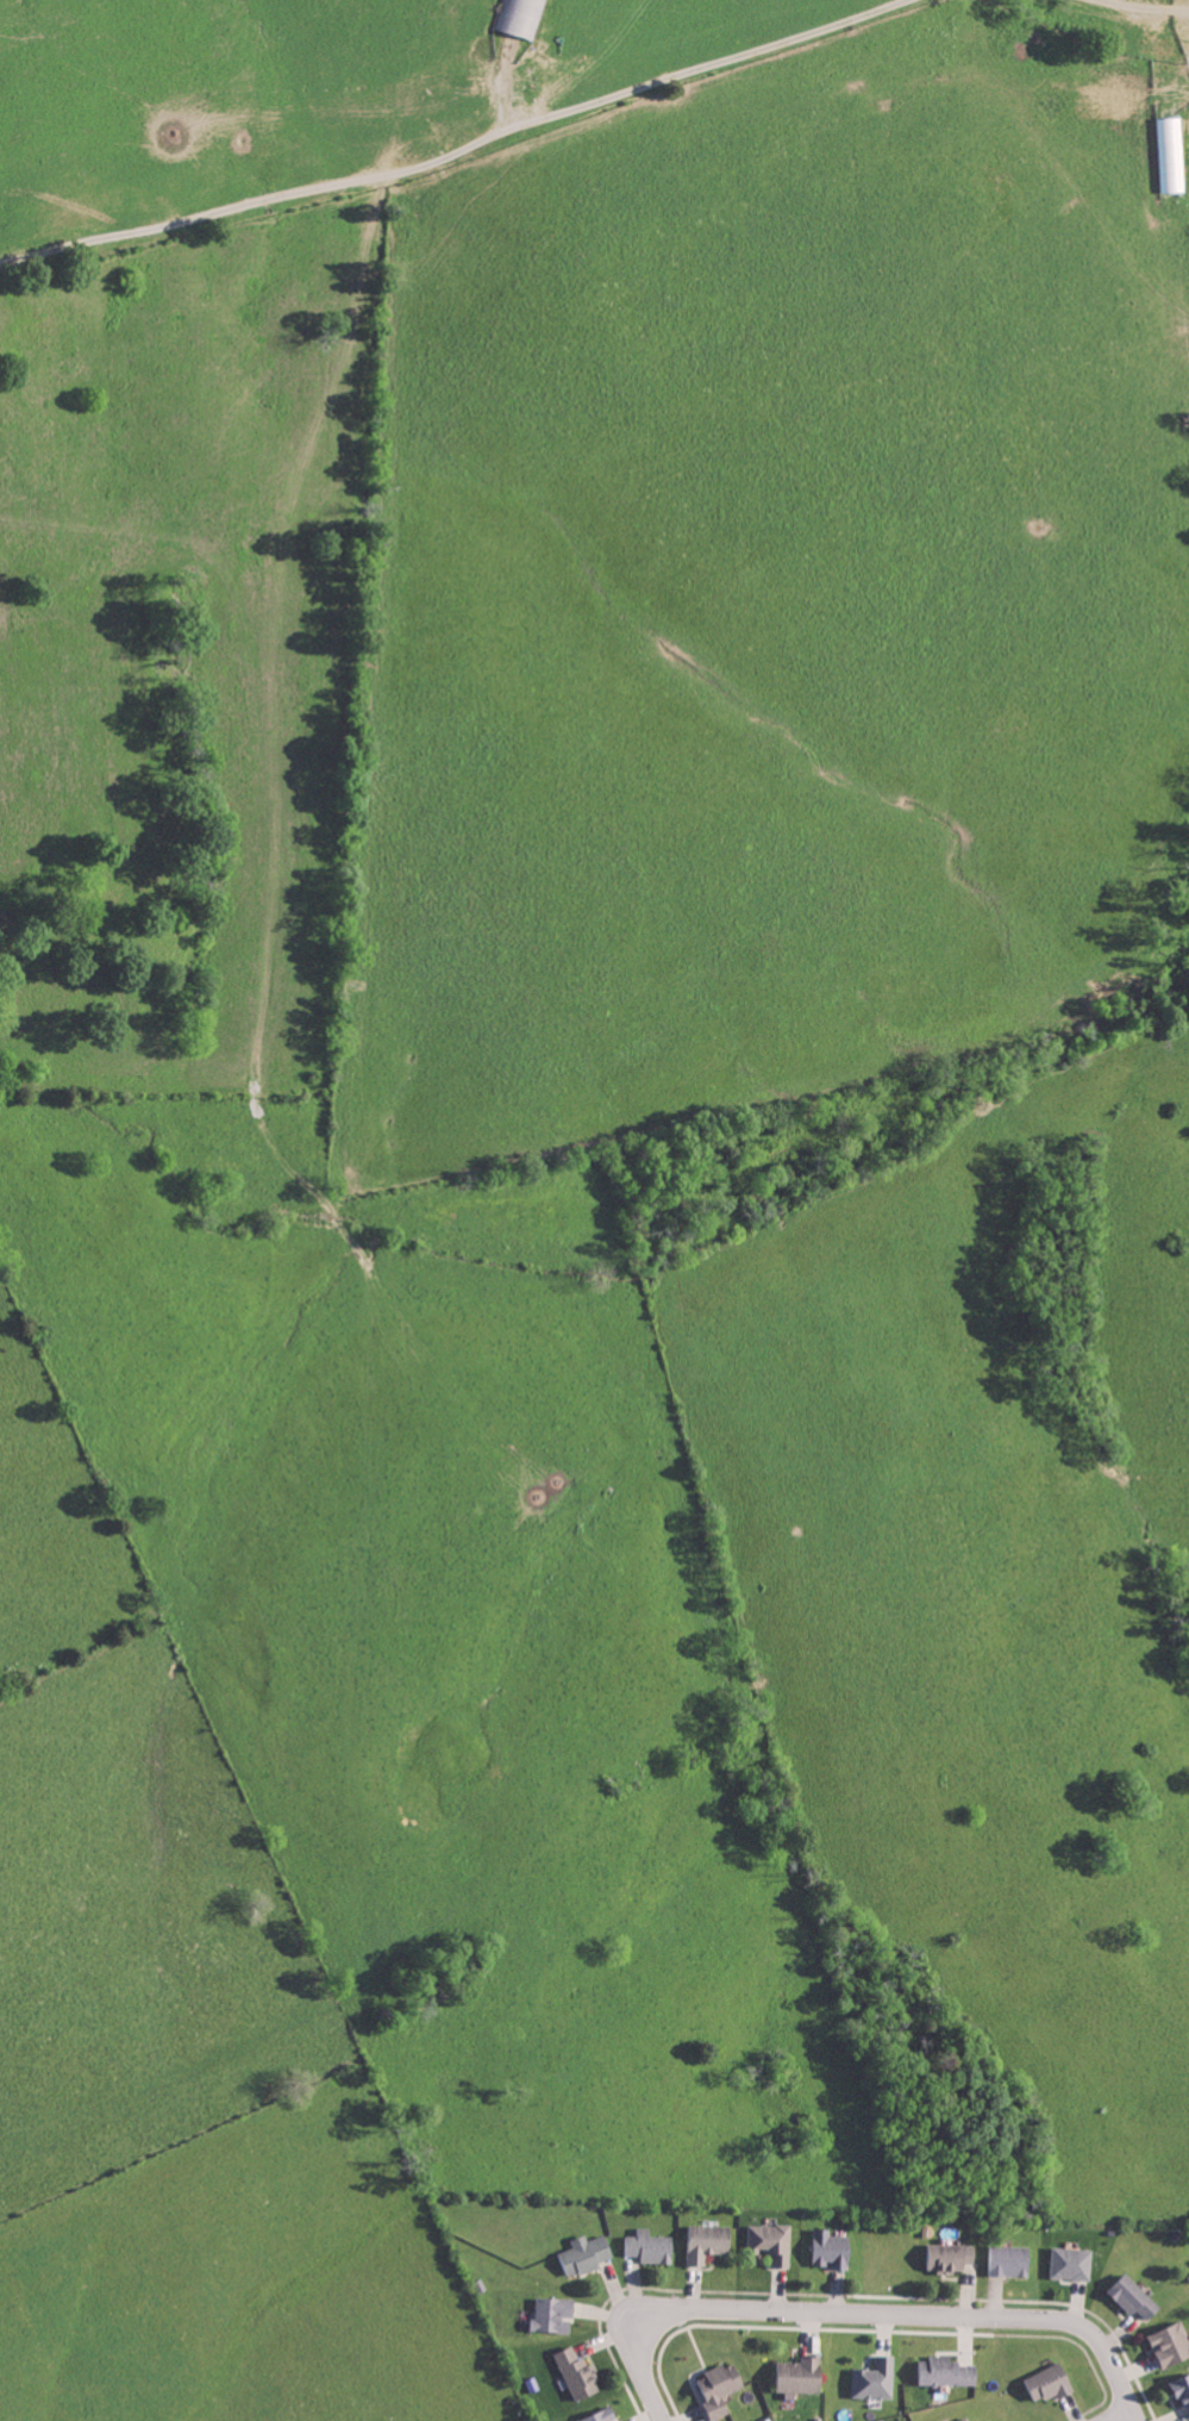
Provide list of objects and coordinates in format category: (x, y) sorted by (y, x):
road: (1151, 2)
road: (459, 139)
building: (774, 2240)
building: (709, 2241)
building: (652, 2246)
building: (833, 2248)
building: (586, 2253)
building: (950, 2255)
building: (1010, 2259)
building: (1074, 2263)
building: (1135, 2296)
building: (556, 2313)
road: (852, 2325)
building: (1171, 2344)
building: (580, 2373)
building: (802, 2375)
building: (877, 2378)
building: (1052, 2382)
building: (1182, 2389)
road: (1113, 2414)
building: (603, 2415)
building: (966, 2419)

